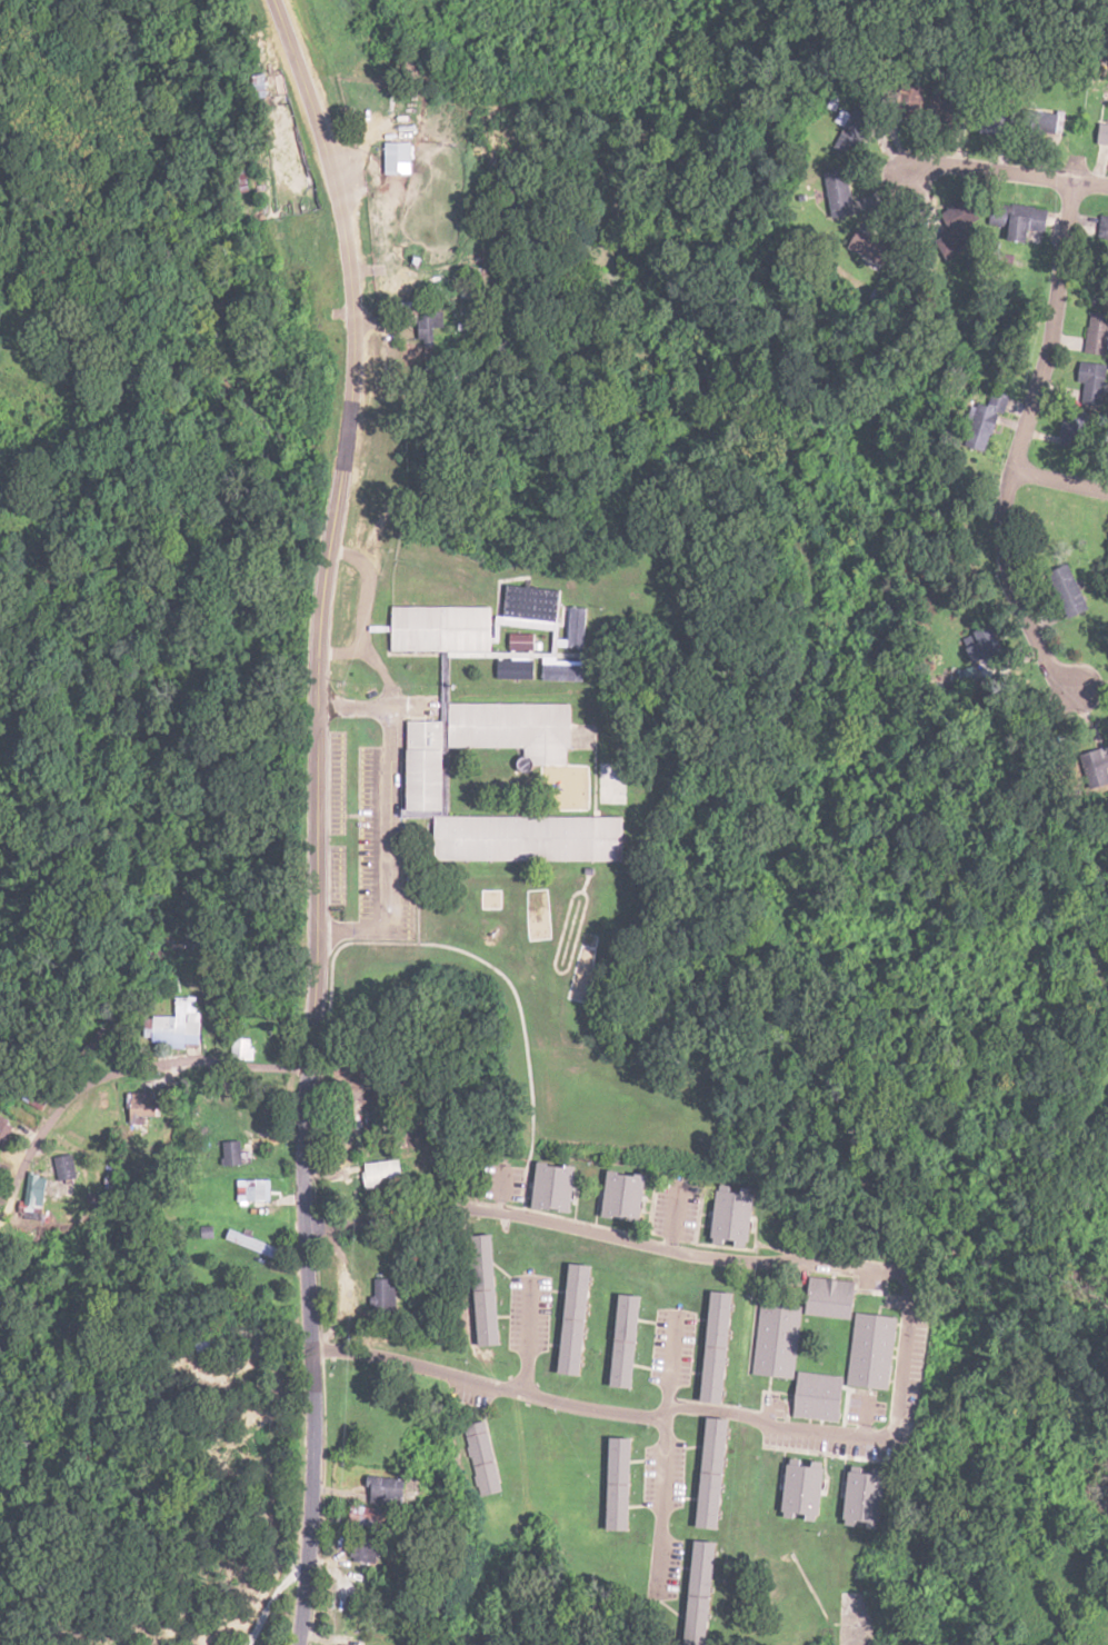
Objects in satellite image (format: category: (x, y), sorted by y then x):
building: (854, 129)
building: (400, 158)
road: (1012, 173)
building: (840, 193)
building: (962, 217)
building: (1030, 226)
building: (1104, 228)
building: (44, 232)
building: (875, 247)
building: (1101, 289)
building: (1097, 333)
building: (1084, 403)
building: (991, 423)
road: (1022, 445)
road: (1062, 478)
building: (1069, 591)
building: (458, 637)
building: (429, 780)
road: (316, 816)
building: (176, 1029)
road: (149, 1089)
building: (40, 1095)
building: (143, 1104)
building: (7, 1130)
building: (232, 1153)
building: (68, 1166)
building: (381, 1173)
building: (555, 1186)
road: (499, 1188)
building: (252, 1190)
building: (625, 1194)
building: (38, 1195)
building: (96, 1202)
building: (735, 1215)
road: (670, 1216)
building: (251, 1244)
building: (487, 1289)
building: (385, 1296)
building: (577, 1319)
building: (858, 1329)
road: (525, 1336)
building: (775, 1338)
building: (627, 1340)
building: (718, 1347)
road: (905, 1347)
building: (821, 1396)
road: (866, 1420)
road: (661, 1455)
building: (622, 1460)
building: (482, 1463)
building: (715, 1473)
building: (807, 1487)
building: (387, 1491)
building: (872, 1495)
building: (369, 1516)
building: (706, 1593)

